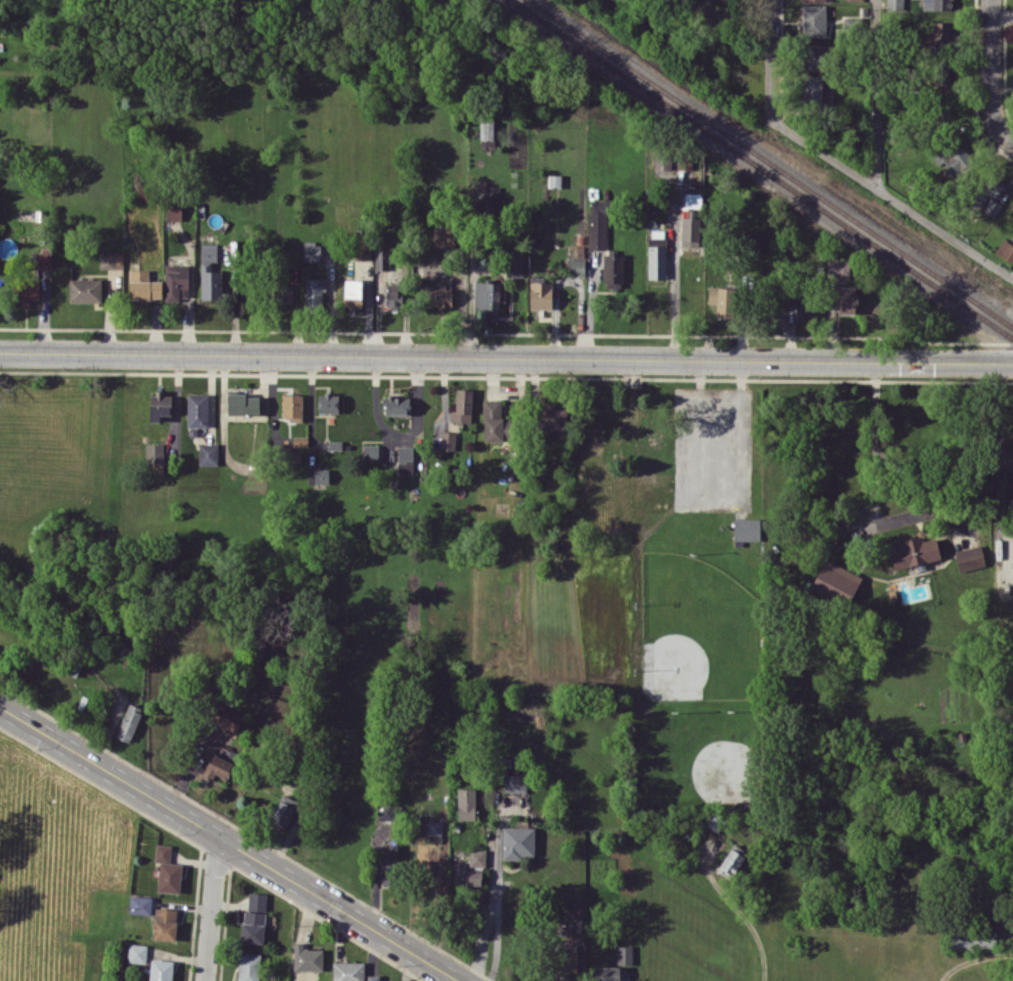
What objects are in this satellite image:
building: (812, 0)
building: (894, 4)
building: (936, 4)
building: (709, 10)
building: (813, 20)
building: (941, 31)
road: (770, 58)
building: (813, 58)
building: (940, 73)
road: (990, 74)
building: (812, 89)
road: (877, 94)
building: (488, 131)
building: (662, 160)
building: (684, 162)
building: (958, 162)
railway: (769, 164)
railway: (761, 171)
building: (989, 189)
road: (891, 198)
building: (1011, 208)
building: (173, 211)
building: (597, 224)
building: (690, 231)
building: (443, 236)
building: (751, 239)
building: (362, 248)
building: (1005, 250)
building: (311, 251)
building: (656, 254)
building: (381, 258)
building: (111, 260)
building: (515, 264)
building: (575, 266)
building: (837, 268)
building: (613, 269)
building: (209, 273)
building: (176, 281)
building: (144, 285)
building: (25, 290)
building: (85, 290)
building: (313, 291)
building: (352, 293)
building: (282, 294)
building: (540, 295)
building: (440, 296)
building: (393, 297)
building: (487, 297)
building: (847, 299)
building: (722, 300)
road: (674, 306)
building: (803, 306)
road: (506, 358)
building: (328, 402)
building: (246, 404)
building: (159, 405)
building: (395, 405)
building: (462, 406)
building: (292, 407)
road: (715, 407)
building: (197, 409)
building: (551, 417)
building: (492, 420)
building: (300, 440)
building: (447, 440)
building: (371, 452)
building: (208, 453)
building: (405, 459)
building: (156, 460)
road: (998, 464)
building: (321, 476)
road: (874, 503)
building: (746, 529)
building: (913, 551)
building: (969, 557)
building: (836, 581)
building: (226, 718)
building: (129, 722)
building: (219, 763)
building: (515, 782)
building: (466, 803)
building: (284, 810)
building: (431, 829)
road: (230, 842)
building: (518, 842)
building: (162, 852)
building: (477, 857)
building: (731, 860)
building: (389, 864)
building: (466, 875)
building: (169, 876)
building: (257, 901)
building: (140, 904)
road: (210, 908)
road: (496, 912)
road: (741, 922)
building: (164, 923)
building: (253, 926)
building: (968, 939)
road: (480, 941)
building: (136, 952)
building: (624, 954)
building: (307, 957)
road: (973, 959)
building: (568, 960)
building: (248, 966)
building: (160, 970)
building: (348, 971)
building: (376, 978)

